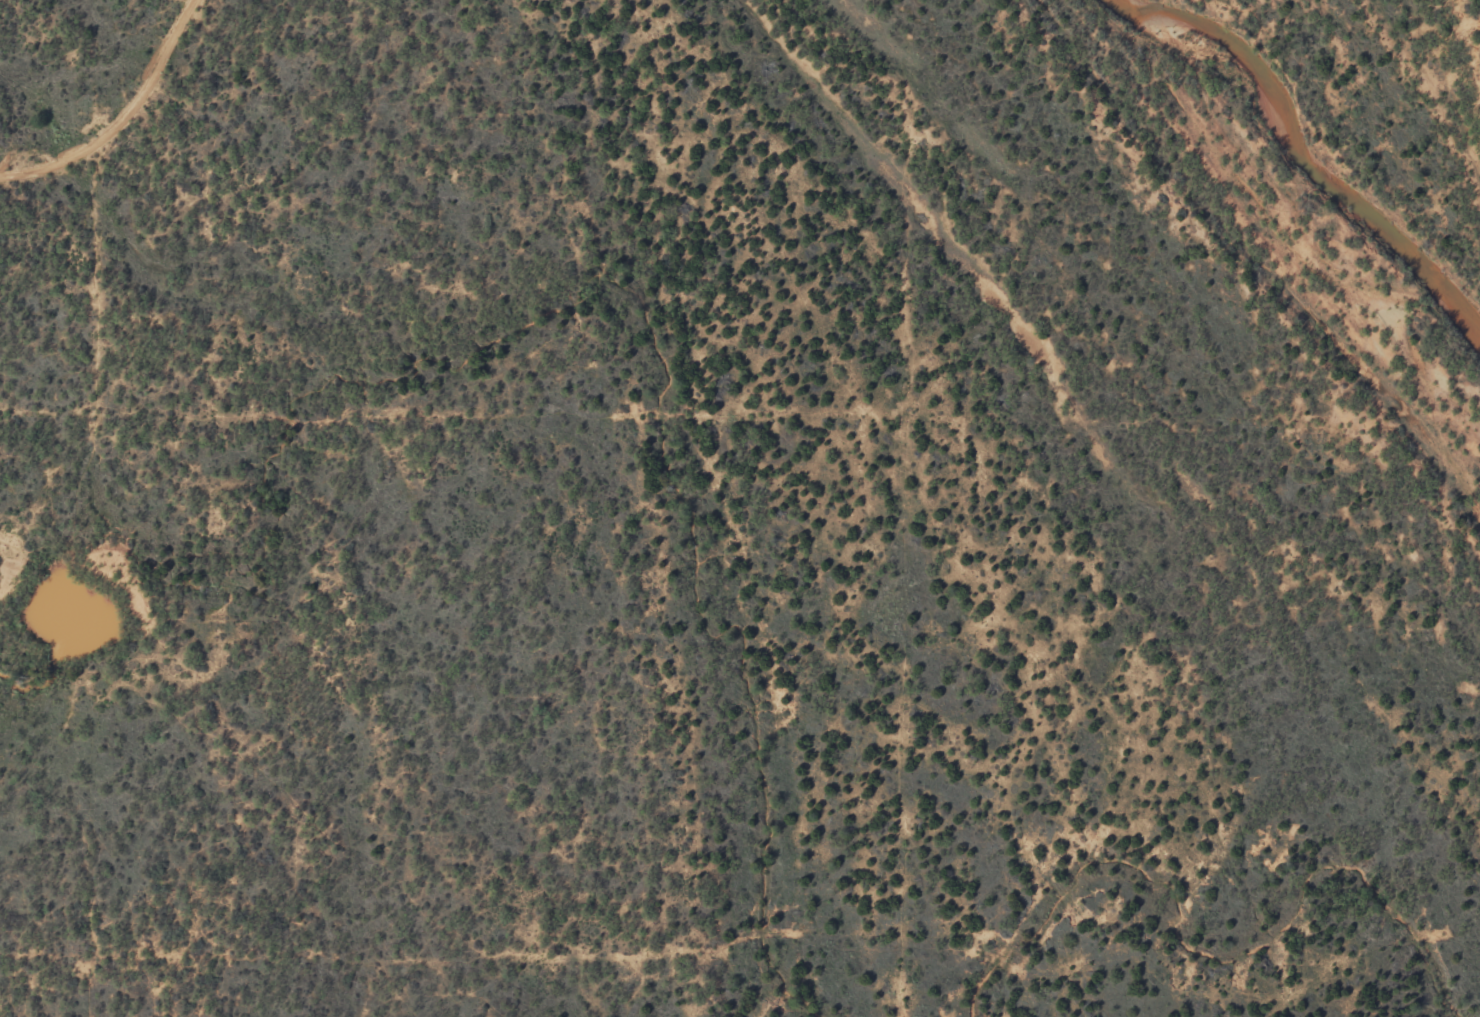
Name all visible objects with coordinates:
road: (128, 114)
river: (1305, 155)

